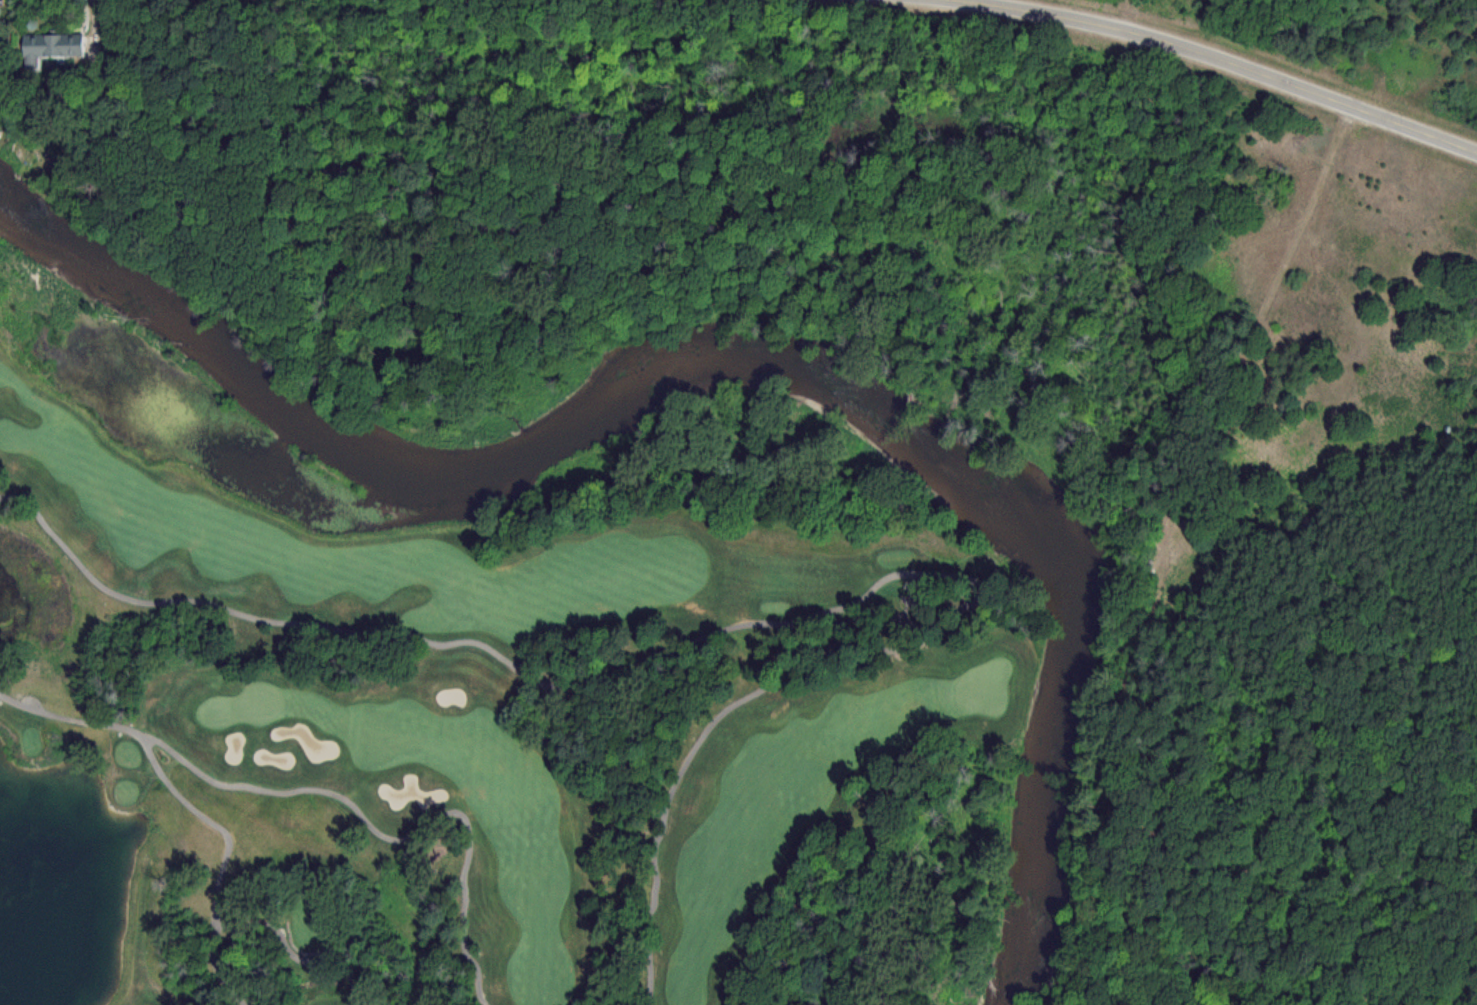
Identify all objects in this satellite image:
road: (92, 25)
building: (46, 45)
road: (1226, 58)
river: (755, 335)
river: (735, 361)
road: (12, 488)
river: (318, 529)
road: (759, 621)
park: (508, 647)
road: (34, 701)
road: (228, 833)
road: (393, 836)
road: (213, 968)

